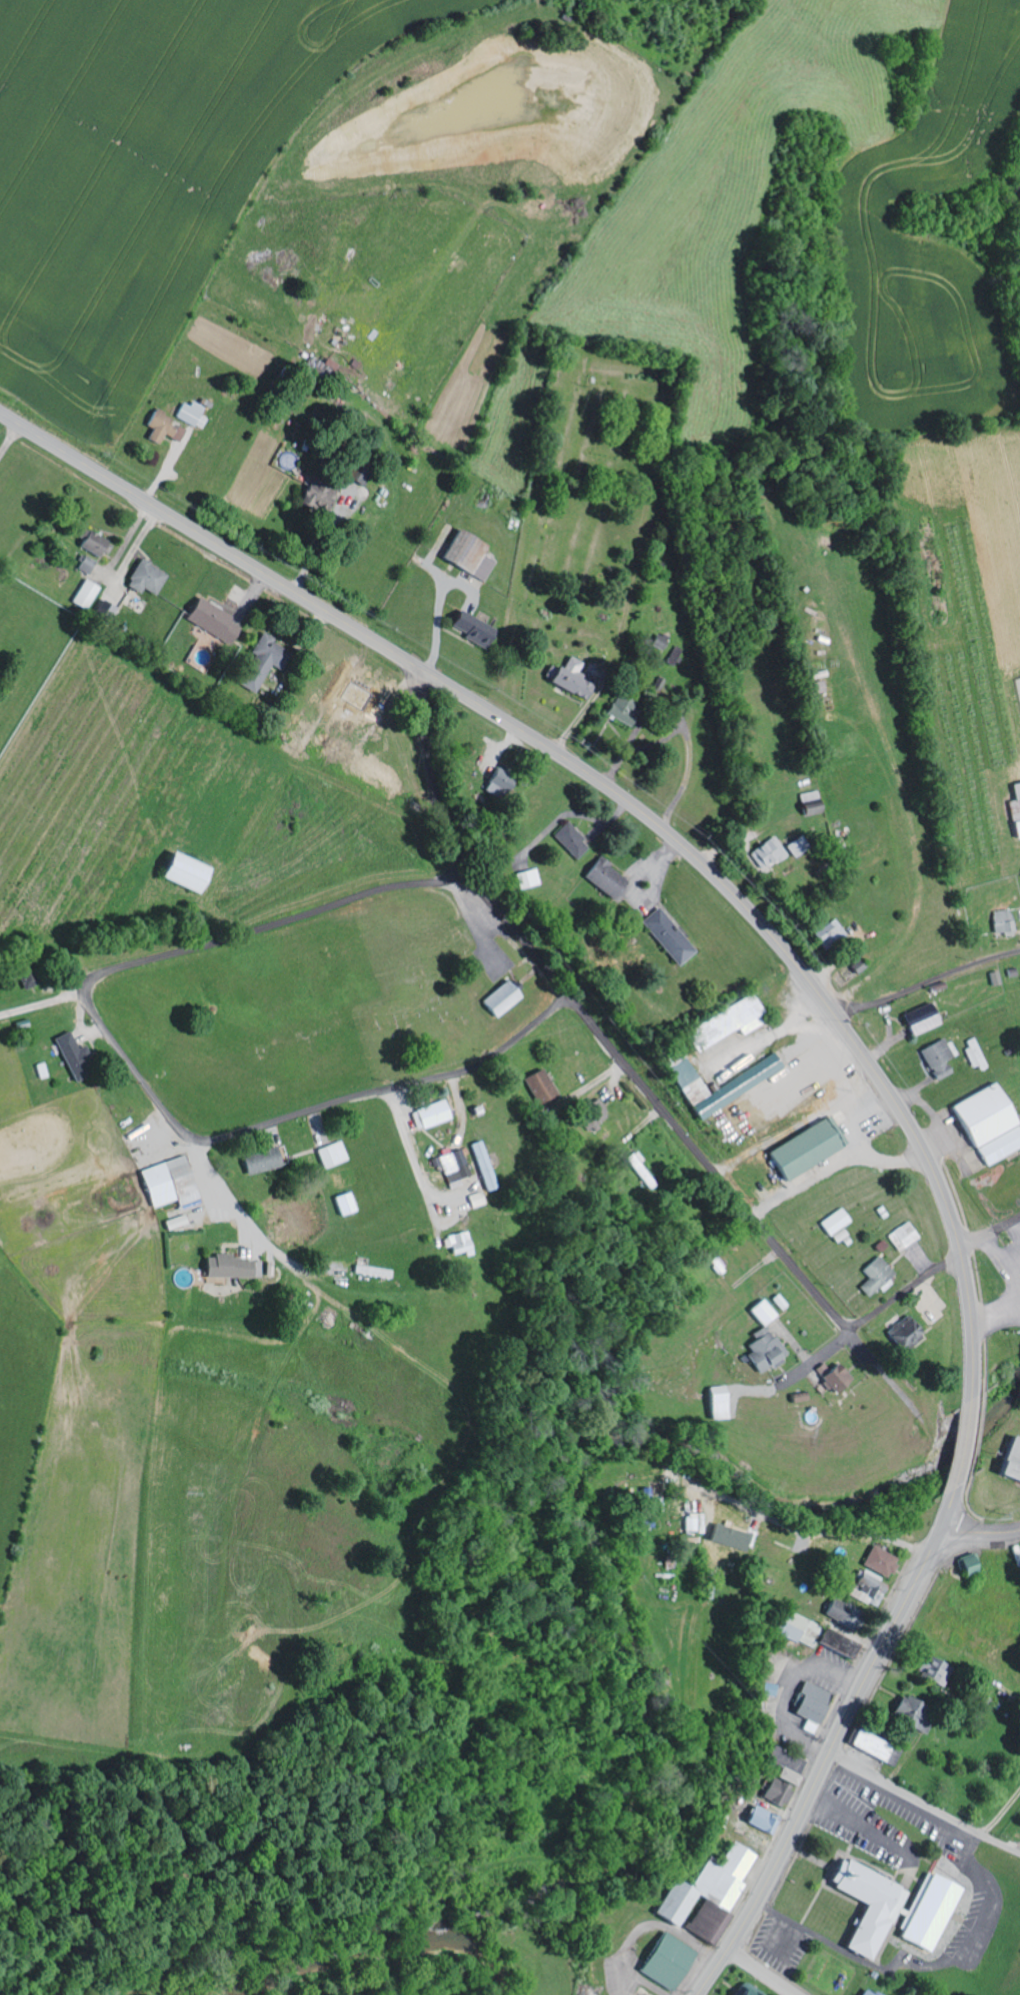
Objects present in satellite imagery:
road: (555, 310)
building: (322, 366)
building: (190, 414)
building: (162, 428)
road: (19, 460)
building: (354, 475)
building: (315, 496)
building: (91, 542)
building: (461, 550)
building: (85, 564)
building: (480, 566)
building: (144, 576)
building: (85, 593)
building: (102, 610)
building: (210, 621)
building: (469, 626)
building: (659, 640)
building: (674, 655)
building: (261, 660)
building: (568, 677)
building: (1019, 682)
building: (816, 686)
building: (621, 709)
building: (496, 780)
building: (1015, 808)
road: (671, 835)
building: (570, 839)
building: (797, 845)
building: (768, 851)
building: (179, 870)
building: (604, 877)
building: (526, 878)
building: (1002, 921)
building: (828, 932)
building: (667, 935)
road: (525, 939)
building: (25, 976)
building: (994, 977)
road: (929, 984)
building: (500, 999)
park: (306, 1010)
building: (918, 1018)
building: (724, 1023)
building: (73, 1054)
building: (975, 1054)
building: (937, 1057)
building: (540, 1085)
building: (687, 1085)
building: (733, 1086)
road: (153, 1095)
building: (595, 1113)
building: (428, 1114)
building: (982, 1115)
building: (1000, 1146)
building: (806, 1147)
road: (204, 1154)
building: (330, 1154)
building: (262, 1158)
building: (483, 1165)
building: (453, 1167)
building: (168, 1182)
building: (475, 1199)
building: (343, 1203)
building: (174, 1222)
building: (834, 1222)
building: (903, 1235)
building: (458, 1243)
road: (783, 1255)
building: (229, 1266)
road: (939, 1268)
building: (372, 1271)
building: (876, 1276)
building: (762, 1312)
building: (903, 1332)
building: (763, 1349)
building: (834, 1377)
building: (799, 1397)
building: (718, 1405)
building: (1010, 1460)
building: (645, 1509)
building: (689, 1522)
road: (979, 1531)
road: (808, 1534)
building: (725, 1536)
building: (875, 1561)
building: (965, 1564)
building: (864, 1588)
building: (807, 1633)
building: (934, 1671)
building: (809, 1702)
building: (906, 1710)
building: (874, 1747)
road: (825, 1764)
building: (779, 1775)
road: (924, 1805)
building: (759, 1819)
building: (715, 1891)
building: (670, 1903)
building: (865, 1904)
building: (929, 1913)
building: (663, 1960)
road: (760, 1972)
building: (739, 1993)
building: (870, 1993)

